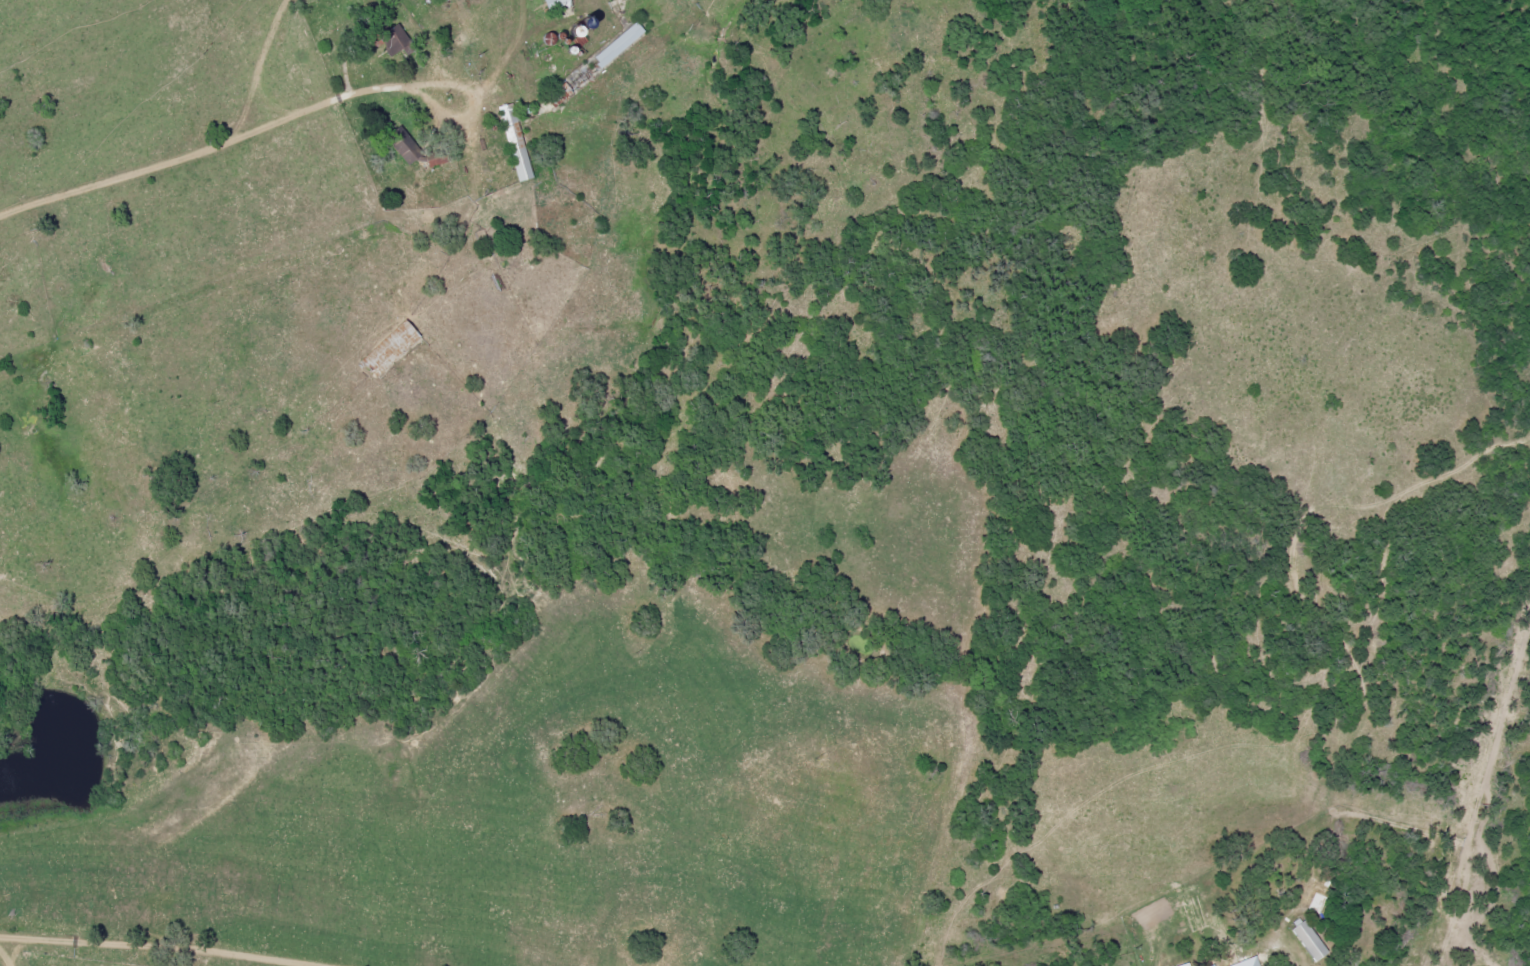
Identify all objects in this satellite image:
building: (552, 2)
building: (395, 42)
building: (618, 44)
road: (286, 123)
building: (515, 143)
building: (390, 347)
road: (26, 388)
road: (87, 940)
building: (1308, 940)
building: (1246, 962)
building: (1183, 965)
building: (1212, 965)

